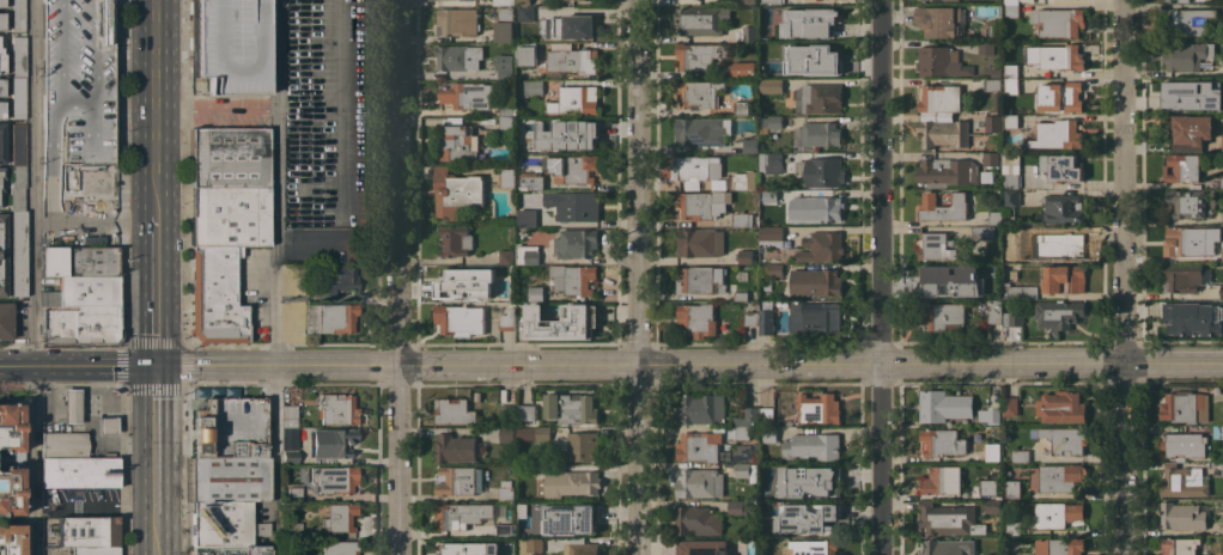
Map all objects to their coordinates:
building: (942, 0)
building: (1173, 0)
building: (523, 1)
building: (748, 1)
building: (769, 1)
building: (1011, 1)
building: (504, 2)
building: (1, 4)
building: (1011, 10)
building: (528, 13)
building: (17, 14)
building: (700, 19)
building: (939, 20)
building: (1059, 20)
building: (1, 22)
building: (457, 22)
building: (809, 22)
building: (1191, 22)
building: (548, 23)
building: (504, 24)
building: (578, 25)
building: (991, 29)
building: (749, 32)
building: (491, 37)
building: (232, 45)
building: (985, 47)
building: (769, 48)
building: (525, 54)
building: (699, 54)
building: (1187, 55)
building: (18, 56)
building: (458, 56)
building: (1055, 56)
building: (571, 59)
building: (822, 60)
building: (941, 61)
building: (1, 63)
building: (504, 69)
building: (738, 69)
building: (1010, 71)
building: (996, 72)
building: (1011, 84)
building: (78, 85)
building: (771, 85)
building: (992, 85)
building: (1, 87)
building: (528, 87)
building: (696, 93)
building: (466, 94)
building: (1189, 94)
building: (1064, 97)
building: (18, 98)
building: (819, 98)
building: (941, 98)
building: (574, 99)
building: (997, 102)
building: (743, 109)
building: (1, 110)
road: (213, 112)
building: (506, 116)
road: (152, 120)
building: (487, 120)
building: (771, 121)
building: (1011, 121)
building: (992, 123)
building: (1188, 128)
building: (701, 130)
building: (565, 133)
building: (943, 133)
building: (817, 134)
building: (1058, 134)
building: (1222, 142)
building: (1, 144)
building: (457, 144)
building: (750, 144)
building: (18, 145)
building: (227, 158)
building: (990, 158)
building: (771, 161)
building: (572, 167)
building: (1061, 167)
building: (1181, 167)
building: (699, 171)
building: (948, 171)
building: (1010, 171)
building: (823, 172)
building: (1, 176)
building: (506, 177)
building: (746, 179)
building: (79, 181)
building: (530, 181)
road: (274, 182)
road: (395, 182)
building: (1217, 182)
building: (17, 188)
building: (456, 191)
building: (771, 195)
building: (1010, 197)
building: (698, 203)
building: (1186, 203)
building: (574, 206)
building: (816, 207)
building: (943, 207)
building: (1061, 209)
building: (777, 213)
building: (229, 216)
building: (527, 218)
building: (994, 218)
building: (1222, 218)
building: (742, 219)
road: (92, 222)
building: (982, 232)
building: (771, 236)
building: (1014, 237)
building: (455, 240)
building: (1185, 240)
building: (700, 242)
building: (576, 243)
building: (1063, 244)
building: (935, 245)
building: (821, 246)
building: (1222, 251)
building: (18, 254)
building: (528, 254)
building: (2, 255)
building: (744, 255)
building: (506, 256)
building: (79, 262)
building: (763, 269)
building: (775, 269)
road: (635, 276)
road: (878, 276)
building: (1182, 276)
road: (32, 277)
building: (573, 277)
road: (1121, 277)
building: (701, 279)
building: (941, 279)
building: (1063, 279)
building: (341, 280)
building: (463, 280)
building: (815, 282)
building: (987, 289)
building: (1221, 291)
building: (84, 292)
building: (1018, 292)
building: (536, 293)
building: (507, 294)
building: (741, 295)
building: (215, 297)
road: (152, 303)
building: (993, 311)
building: (1058, 313)
building: (528, 315)
building: (943, 316)
building: (1186, 316)
building: (814, 317)
building: (335, 318)
building: (578, 318)
building: (750, 318)
building: (1012, 318)
building: (460, 319)
building: (507, 319)
building: (696, 319)
building: (6, 321)
building: (310, 321)
building: (766, 321)
building: (79, 325)
road: (1172, 361)
road: (878, 362)
road: (516, 364)
road: (274, 365)
road: (16, 366)
road: (92, 367)
traffic signals: (153, 367)
building: (477, 396)
road: (153, 400)
building: (943, 405)
building: (1010, 405)
building: (72, 407)
building: (1184, 407)
building: (571, 408)
building: (819, 408)
building: (1063, 408)
building: (336, 409)
building: (701, 409)
building: (287, 411)
building: (452, 411)
building: (506, 411)
building: (525, 411)
building: (766, 415)
building: (988, 415)
building: (489, 417)
building: (747, 417)
building: (108, 426)
building: (10, 428)
building: (230, 429)
building: (1218, 431)
building: (525, 432)
building: (743, 432)
building: (543, 433)
building: (506, 434)
building: (769, 434)
building: (1065, 439)
building: (942, 441)
building: (330, 443)
building: (63, 445)
building: (1185, 445)
building: (580, 446)
building: (700, 446)
building: (811, 446)
building: (454, 447)
building: (744, 451)
building: (992, 451)
building: (1018, 455)
building: (290, 457)
road: (396, 459)
road: (273, 461)
road: (153, 469)
building: (525, 469)
building: (1222, 469)
building: (747, 470)
building: (79, 472)
building: (1057, 477)
building: (330, 478)
building: (226, 480)
building: (941, 480)
building: (456, 481)
building: (808, 481)
building: (1184, 481)
building: (568, 483)
building: (699, 483)
building: (1222, 488)
building: (505, 490)
building: (990, 490)
building: (1012, 490)
building: (10, 492)
building: (293, 494)
building: (300, 505)
road: (93, 506)
building: (992, 506)
building: (524, 507)
building: (736, 507)
building: (1057, 513)
building: (460, 514)
building: (1184, 514)
building: (808, 517)
building: (339, 518)
building: (947, 518)
building: (571, 520)
building: (698, 520)
building: (226, 525)
building: (1012, 527)
building: (293, 529)
building: (506, 530)
road: (153, 531)
building: (89, 535)
building: (11, 539)
building: (529, 545)
building: (1179, 545)
building: (702, 547)
building: (813, 547)
building: (948, 547)
building: (1059, 547)
building: (339, 548)
building: (452, 548)
building: (580, 549)
building: (230, 550)
building: (1221, 553)
building: (992, 554)

